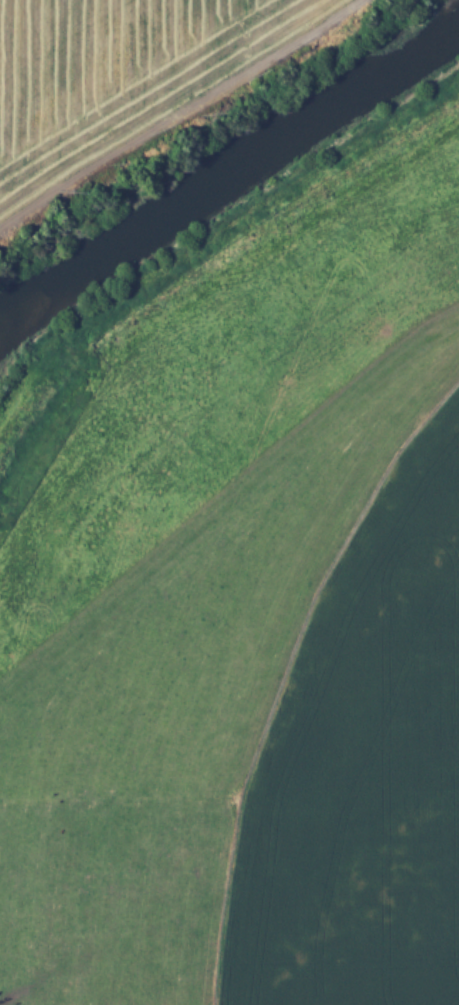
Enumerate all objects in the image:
crop: (119, 77)
river: (224, 171)
crop: (364, 766)

